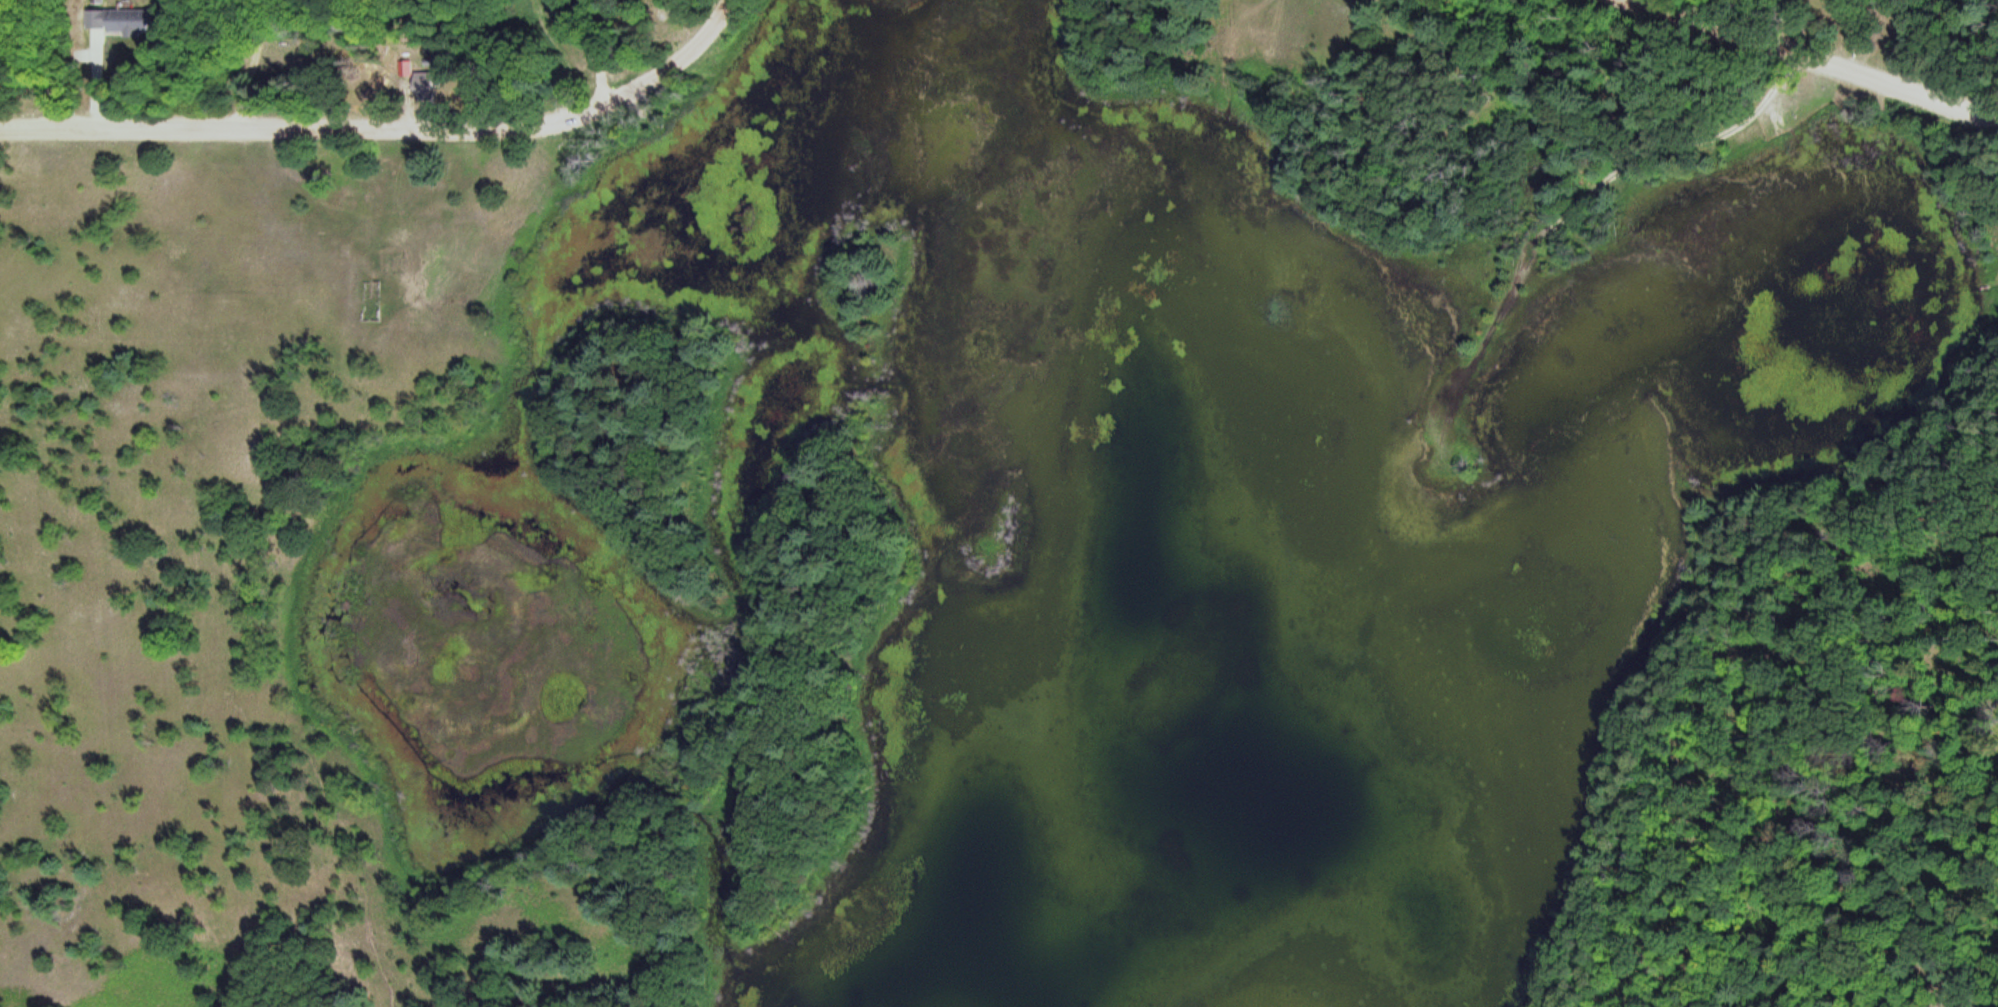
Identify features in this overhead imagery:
building: (125, 22)
road: (1811, 61)
building: (430, 91)
road: (386, 127)

